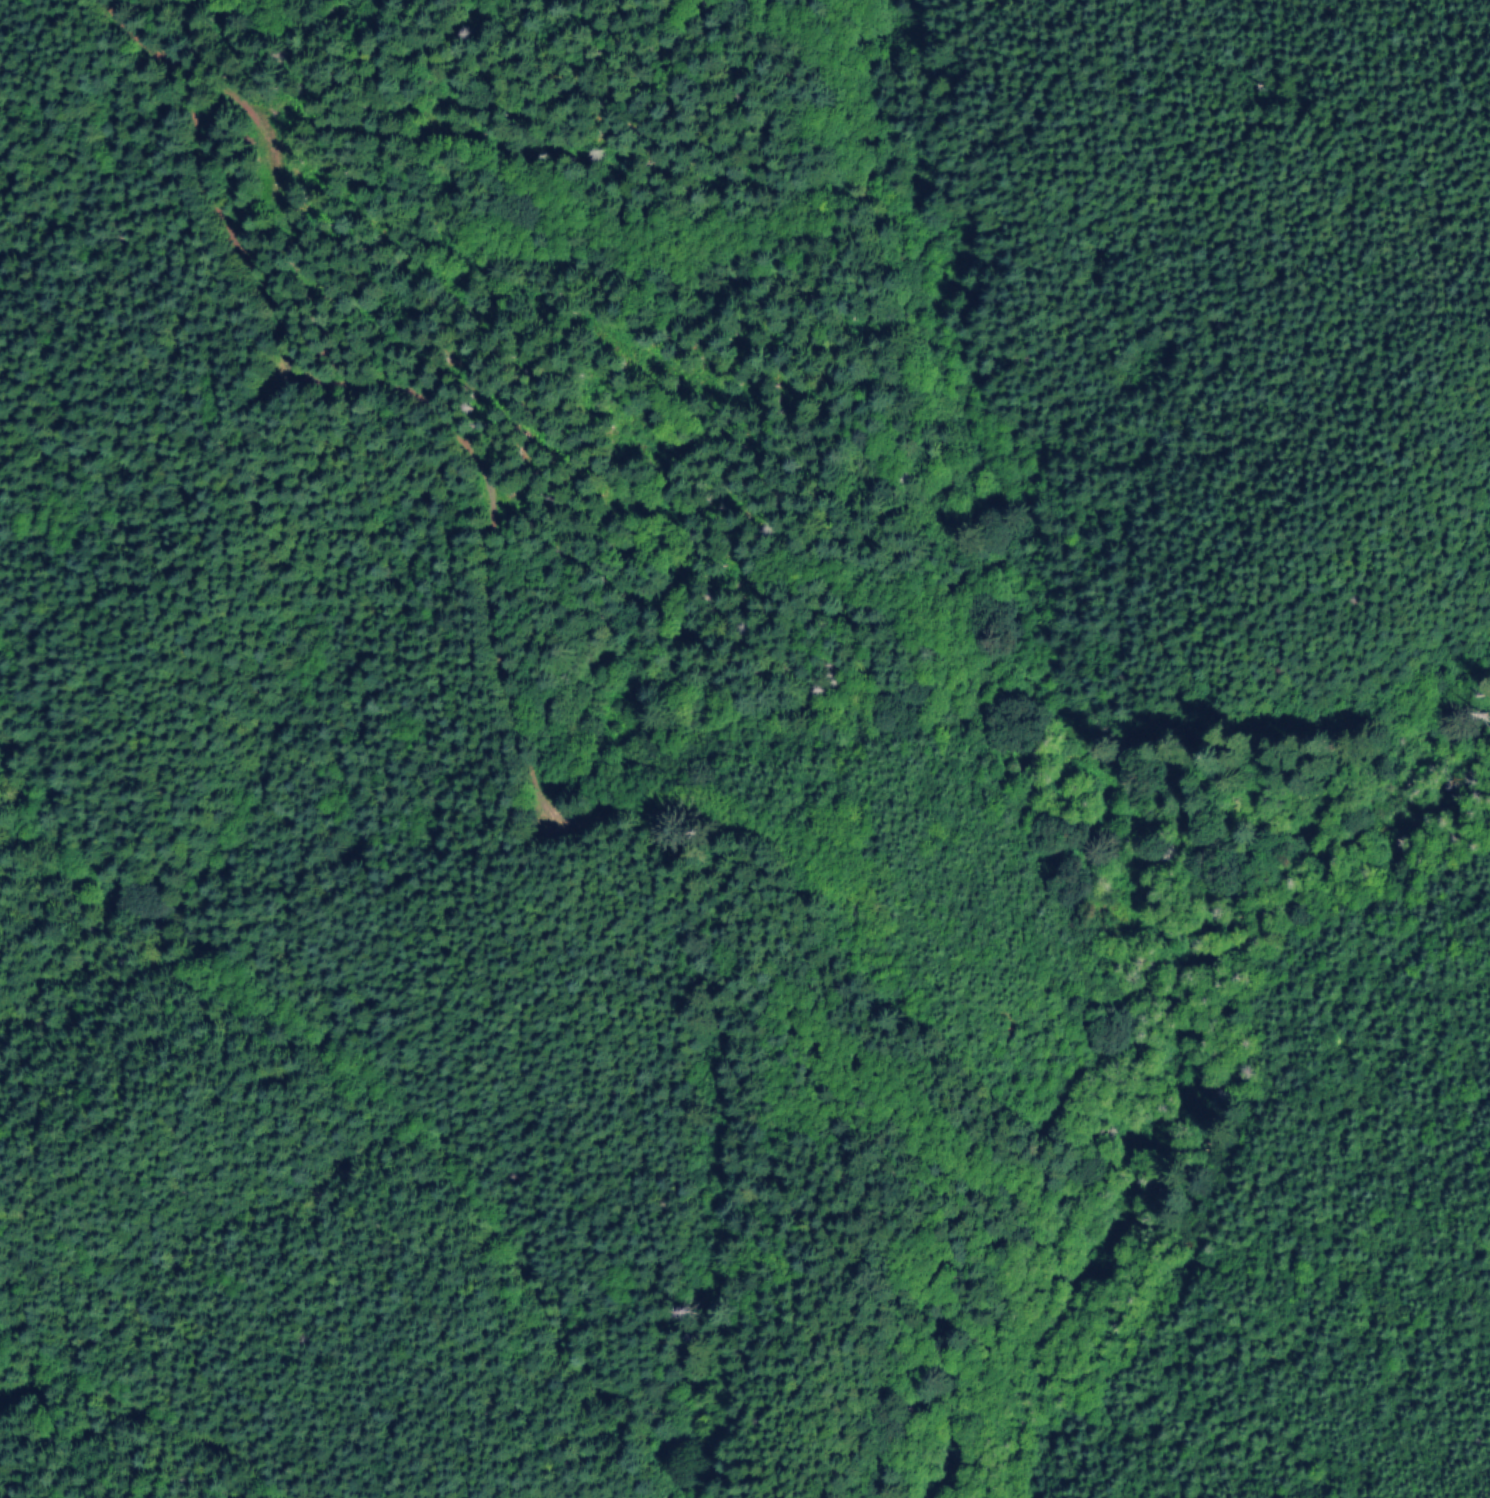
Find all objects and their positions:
road: (214, 51)

